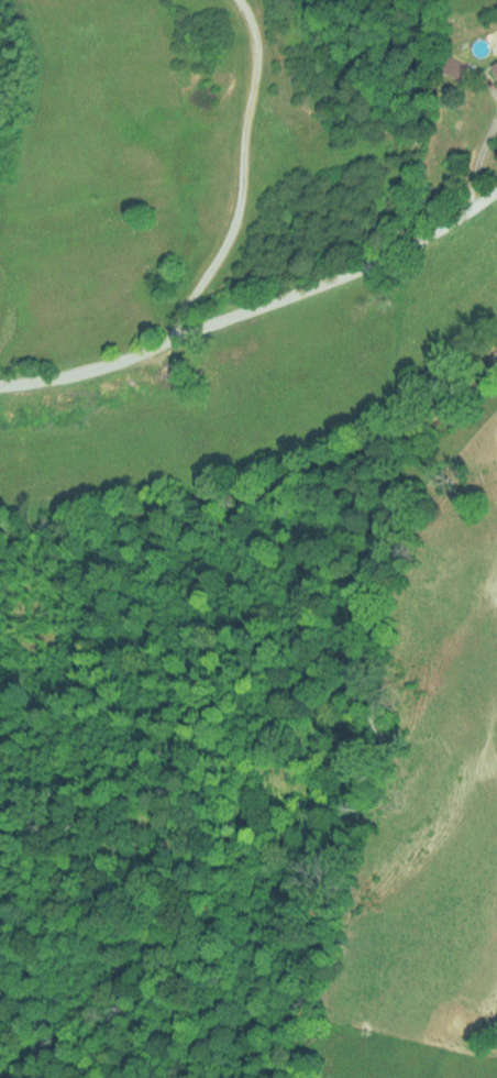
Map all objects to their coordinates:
building: (494, 67)
road: (238, 174)
road: (255, 305)

